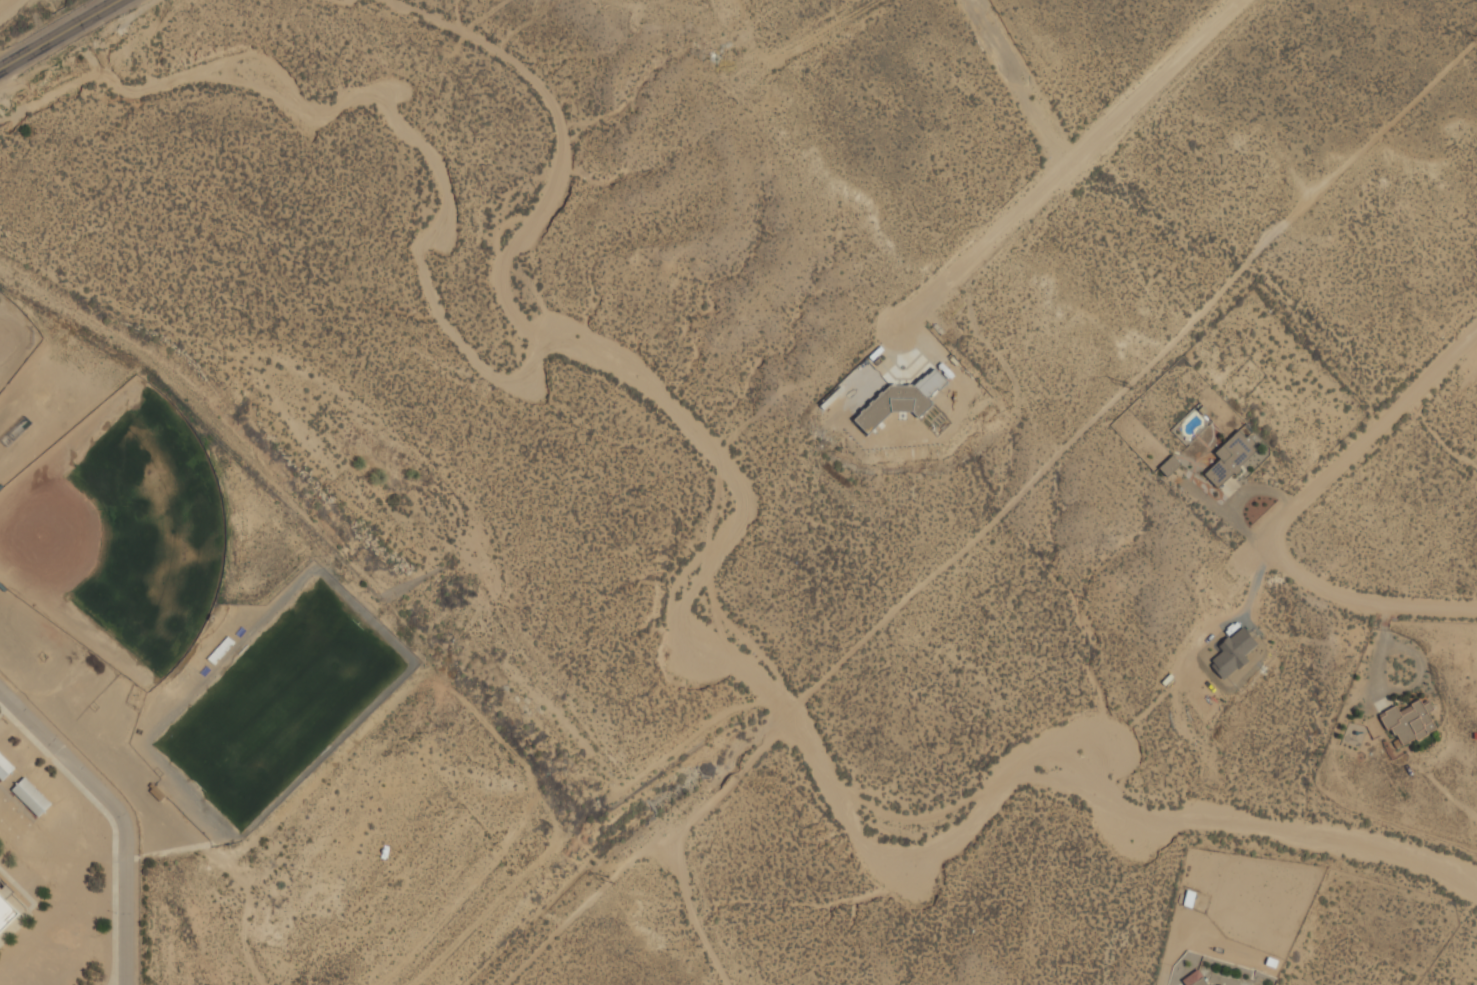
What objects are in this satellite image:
road: (55, 32)
road: (1019, 82)
road: (1068, 163)
park: (13, 339)
power tower: (1129, 385)
building: (900, 401)
building: (1230, 460)
building: (1169, 467)
road: (1347, 469)
park: (118, 532)
road: (1362, 603)
building: (1232, 653)
park: (284, 700)
building: (1407, 723)
building: (1373, 728)
building: (4, 767)
building: (30, 797)
road: (119, 813)
road: (112, 823)
power tower: (611, 880)
road: (34, 903)
building: (6, 912)
building: (1204, 983)

